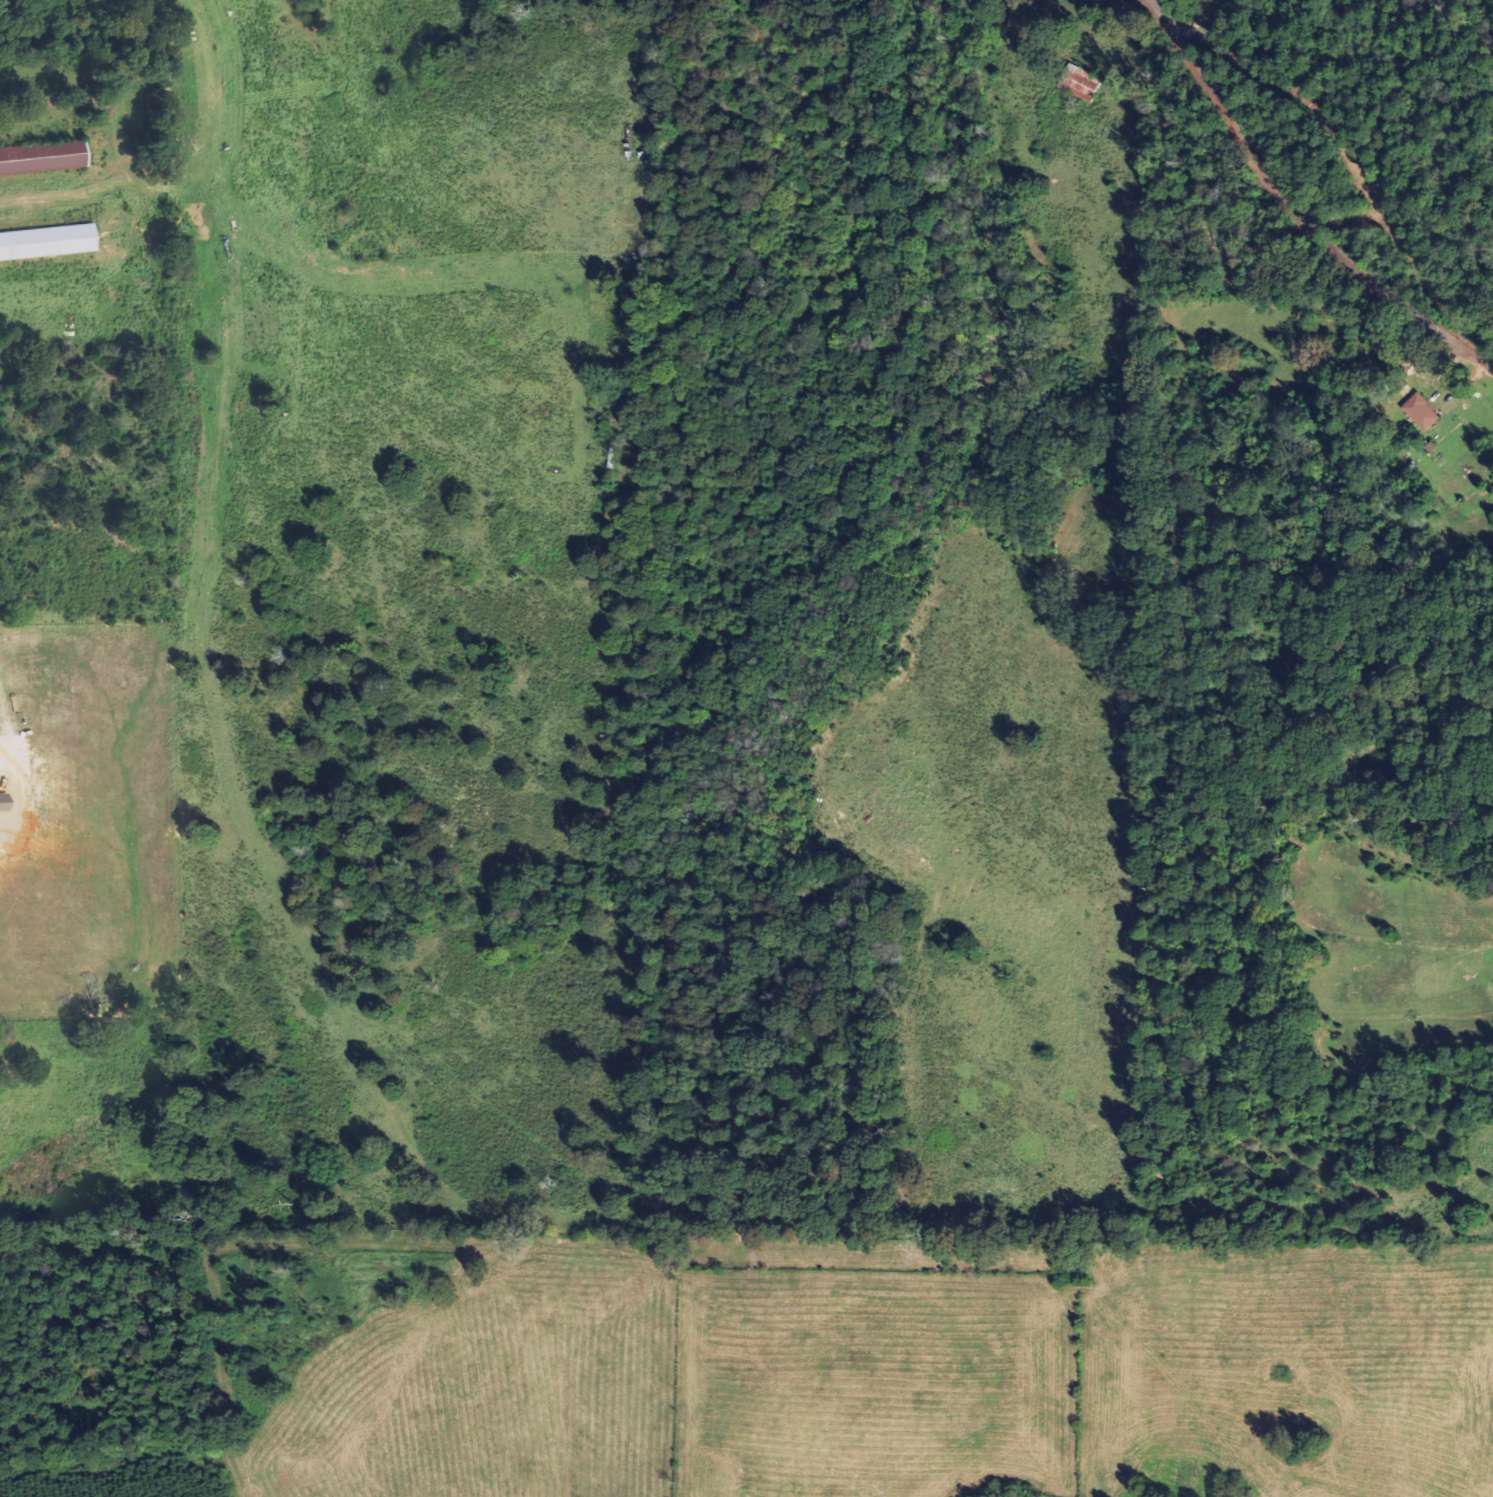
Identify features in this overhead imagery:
building: (1086, 86)
road: (1293, 212)
building: (50, 243)
building: (1427, 412)

